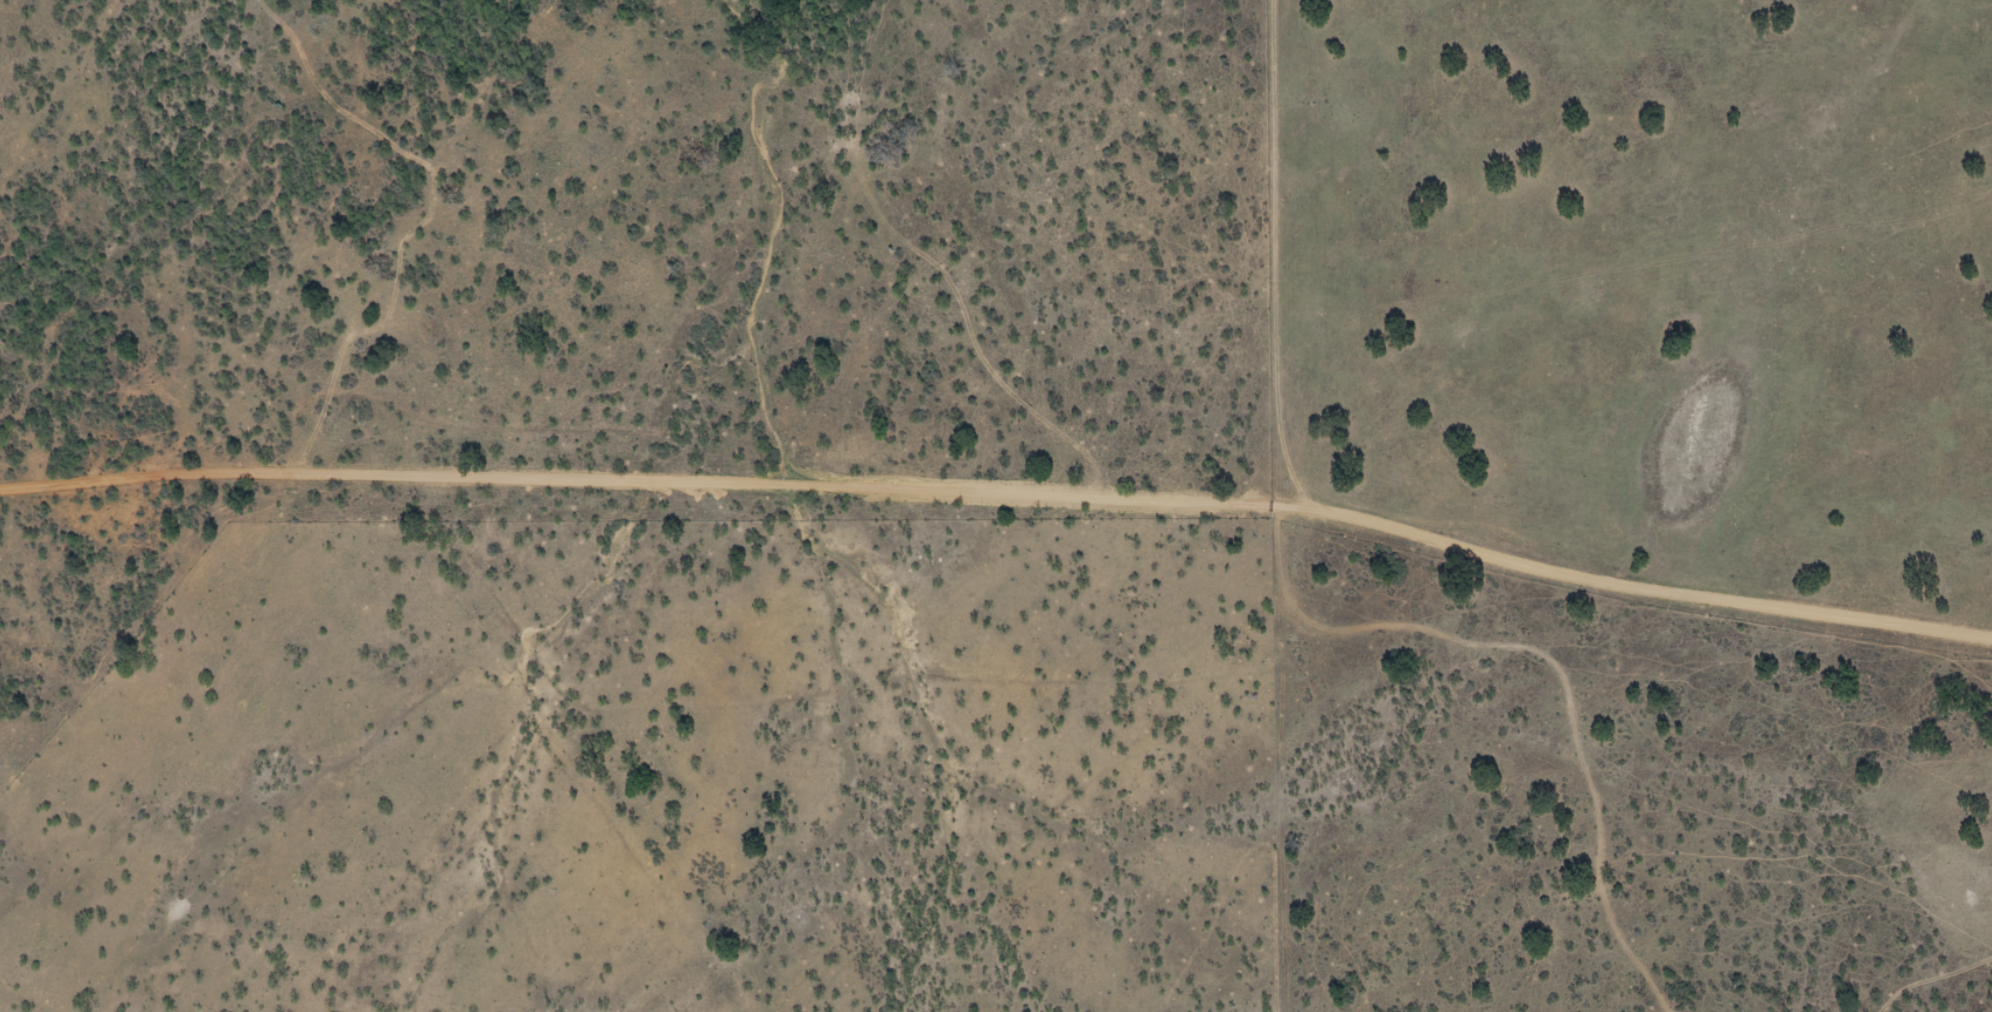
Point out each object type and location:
road: (1001, 501)
road: (1253, 848)

